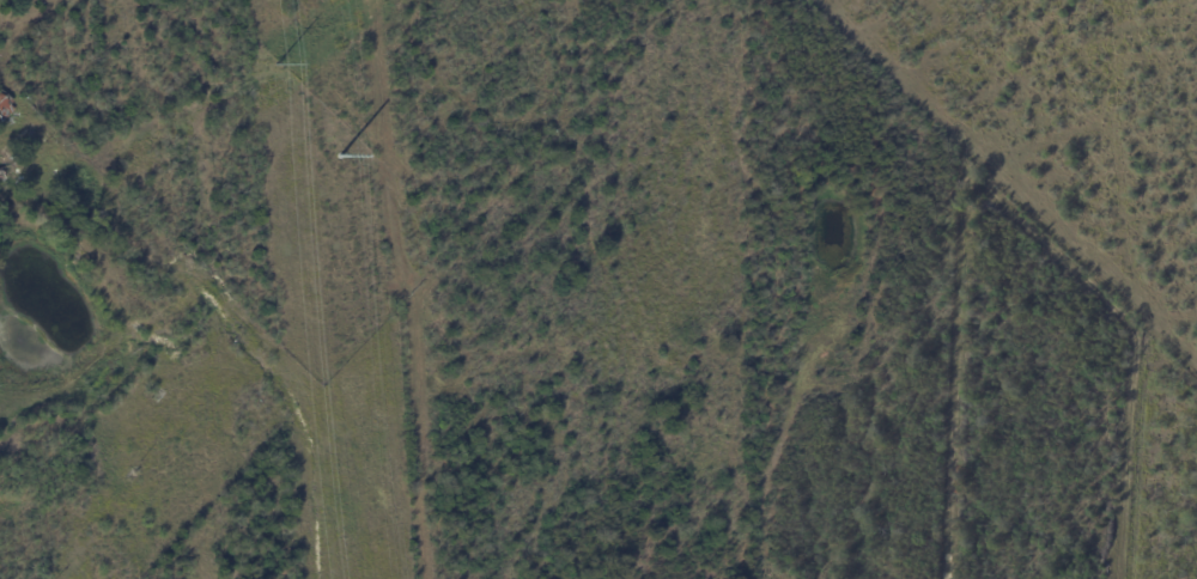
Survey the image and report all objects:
building: (26, 51)
building: (5, 105)
power tower: (338, 135)

